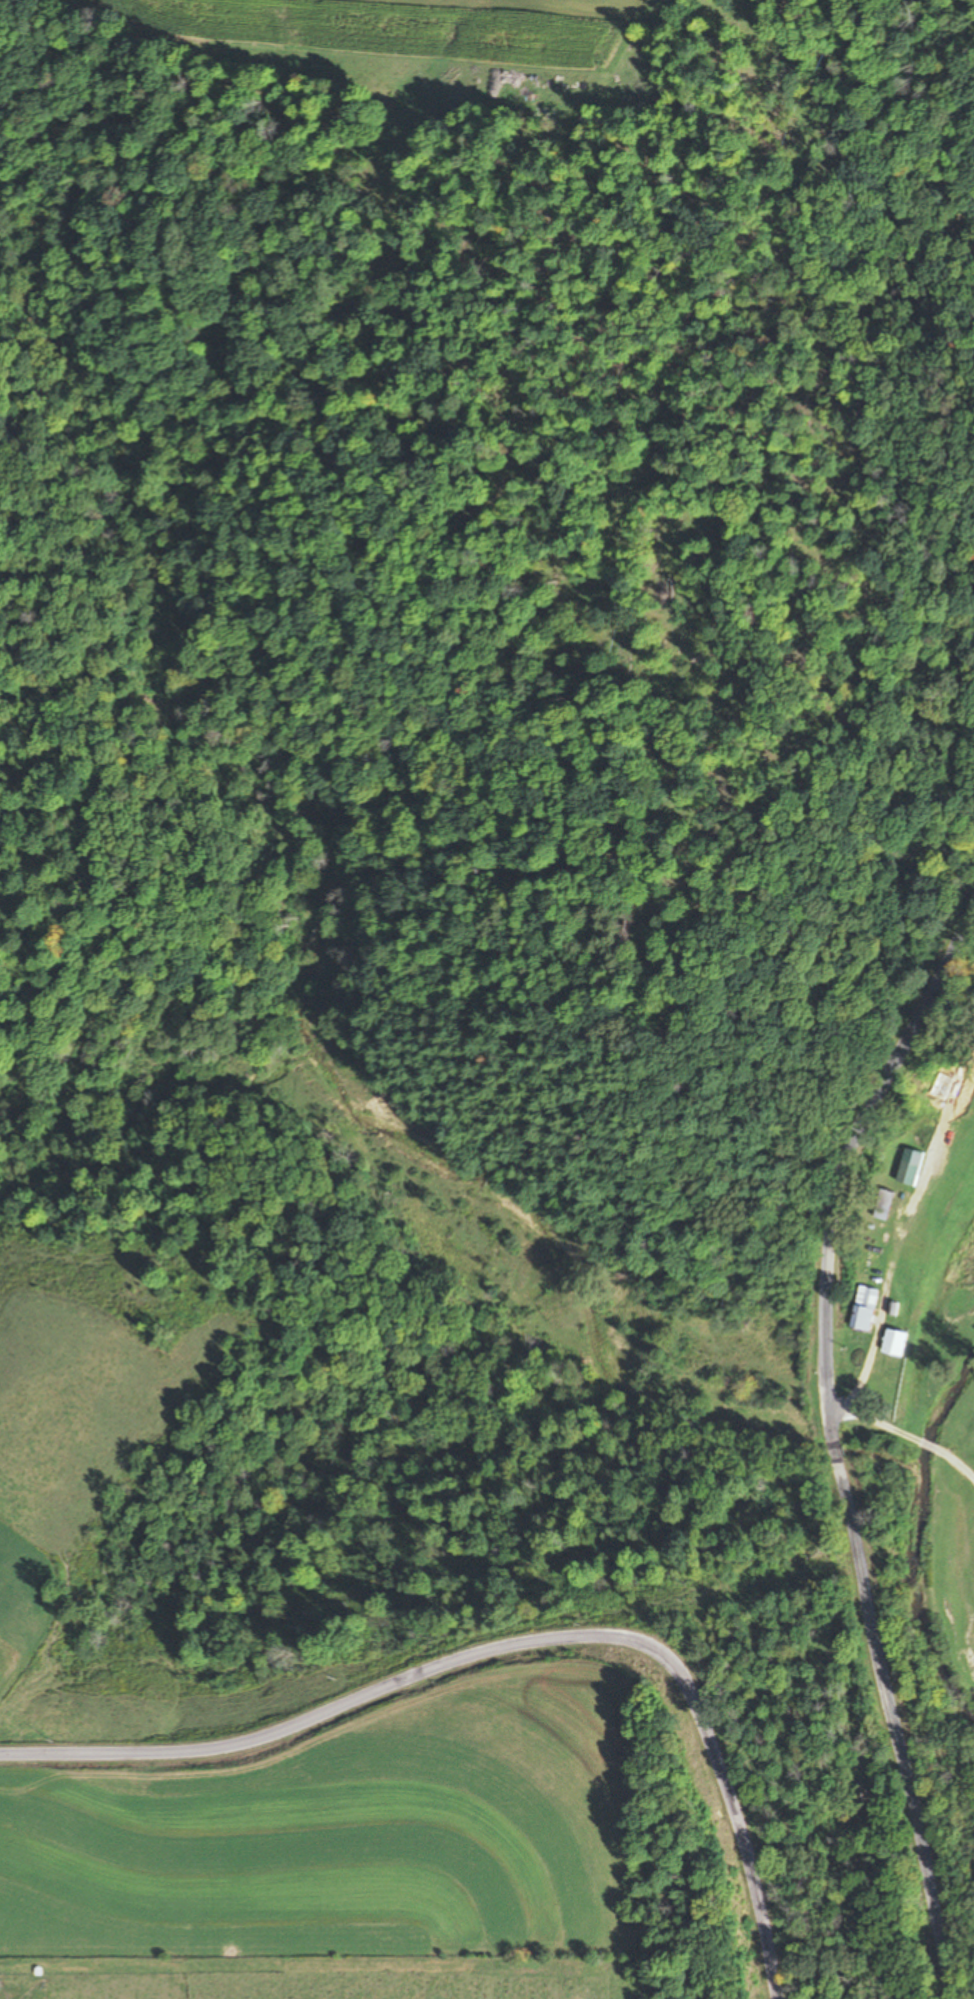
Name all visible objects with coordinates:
building: (906, 1167)
building: (882, 1199)
building: (861, 1309)
building: (892, 1344)
road: (902, 1368)
road: (839, 1450)
road: (507, 1655)

